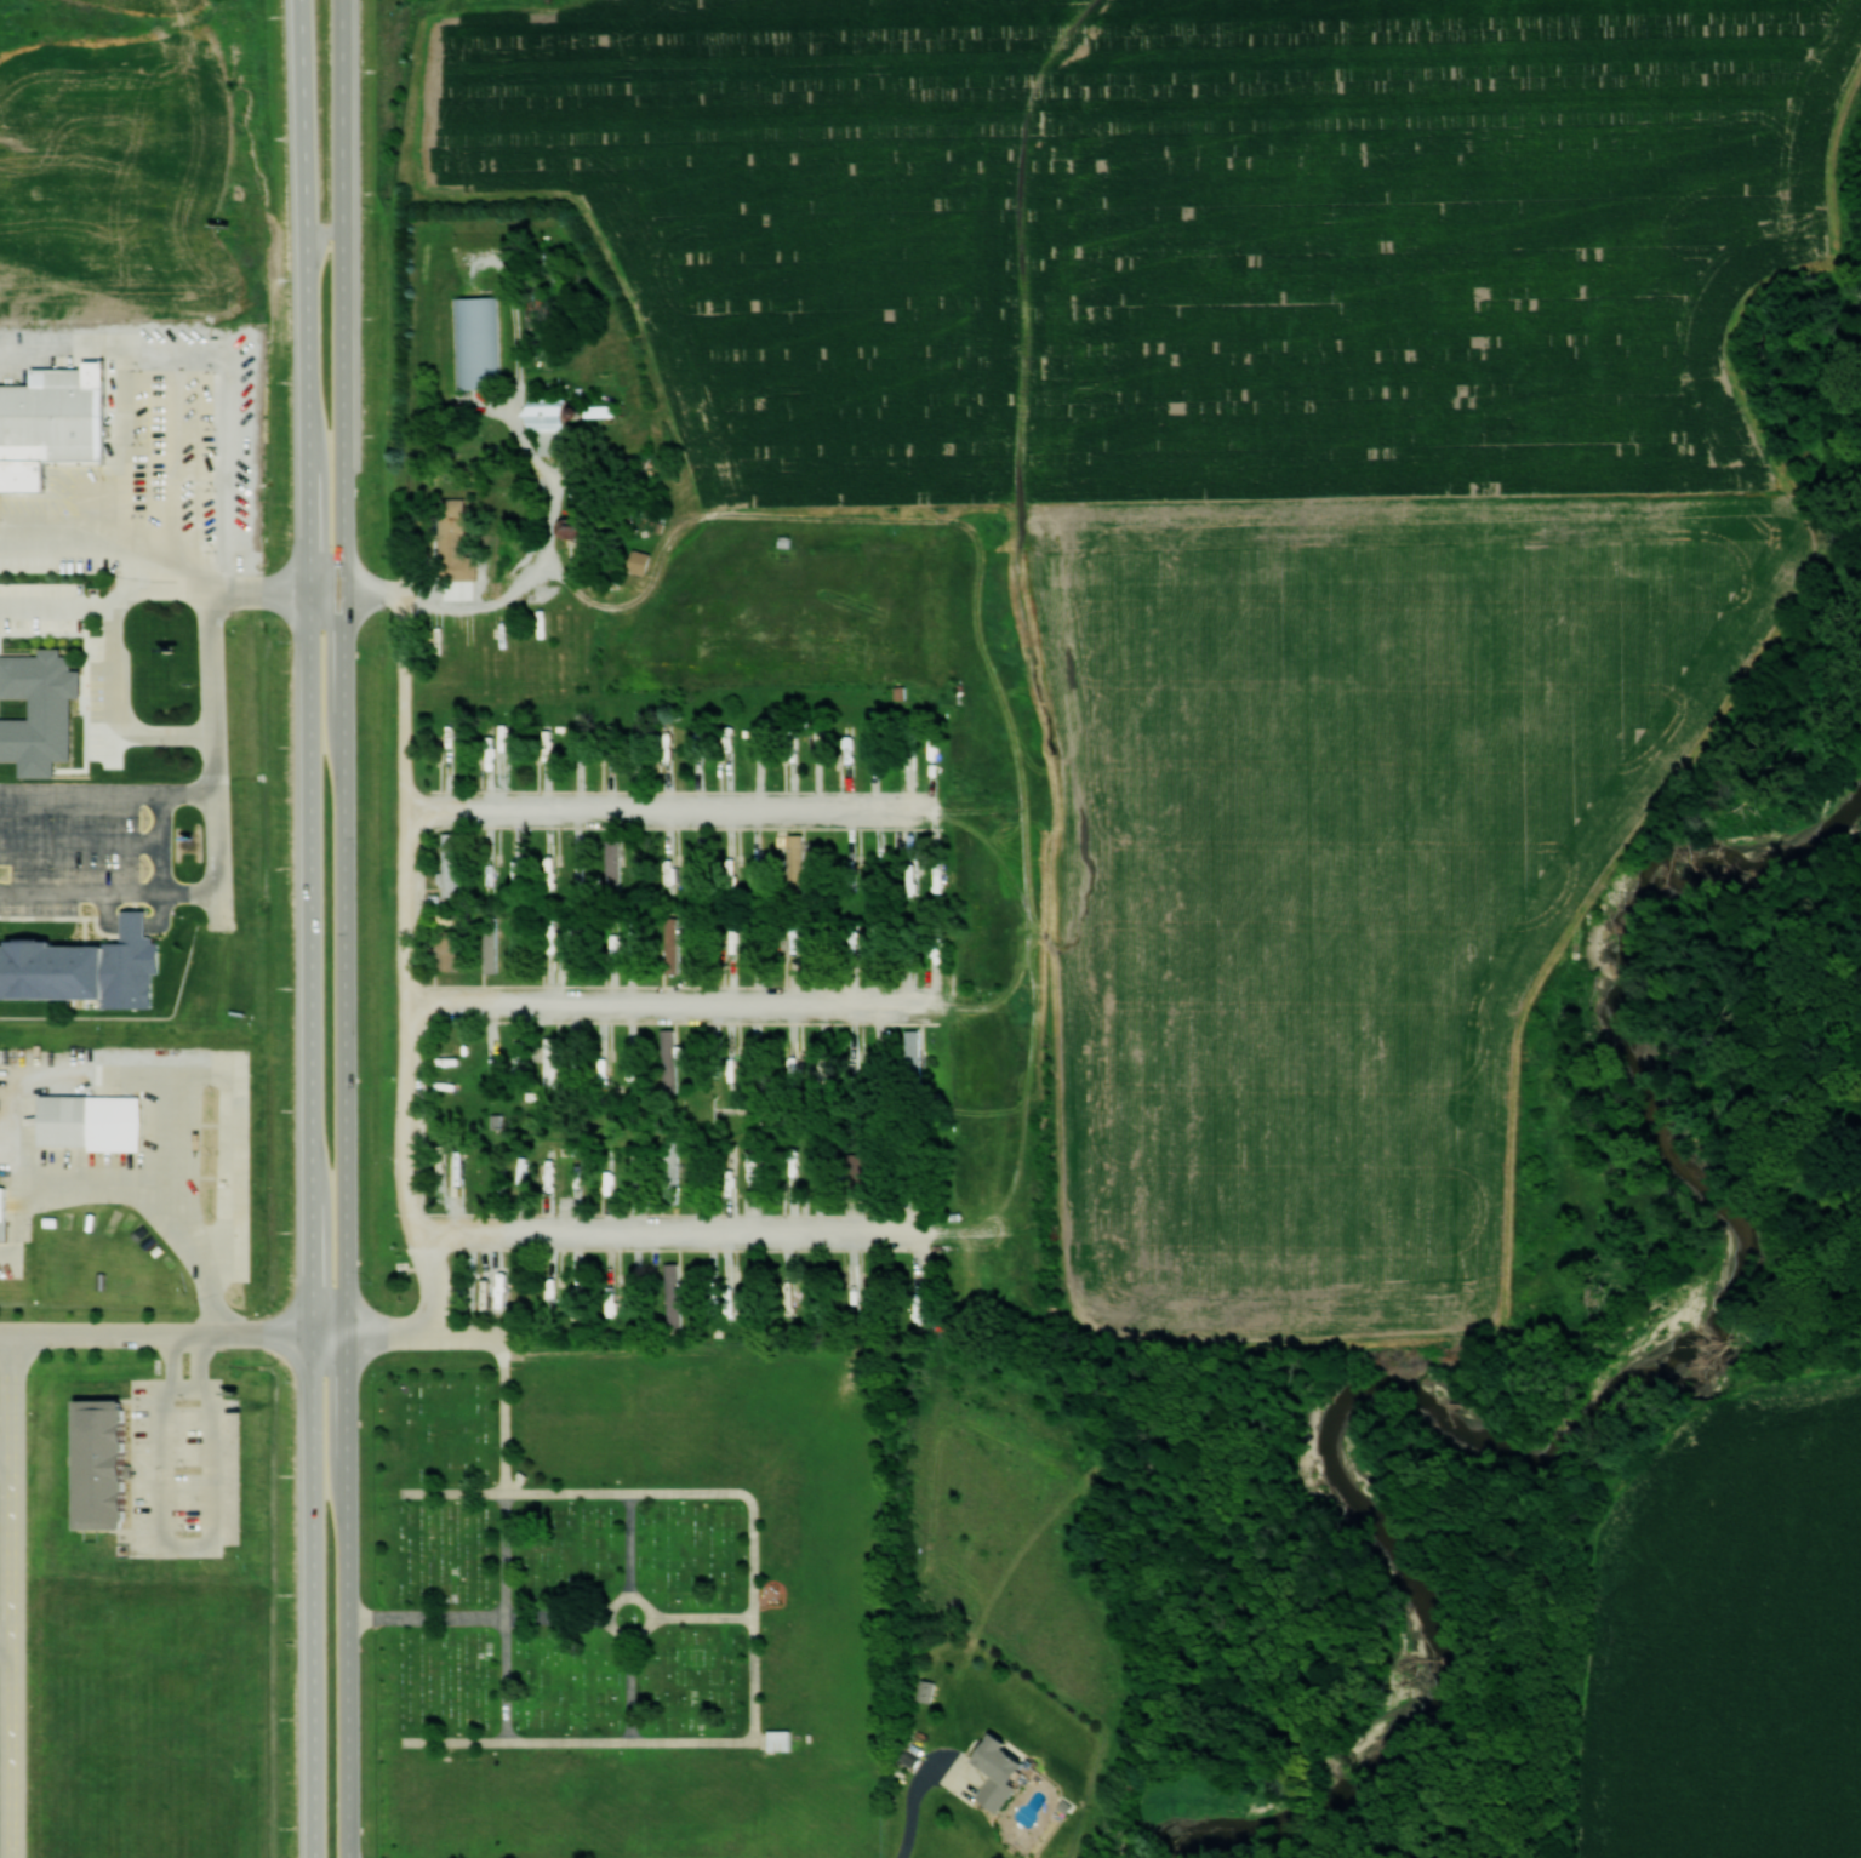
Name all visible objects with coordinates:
road: (346, 184)
road: (296, 262)
building: (481, 342)
building: (603, 411)
building: (58, 415)
building: (556, 425)
road: (346, 484)
building: (578, 528)
building: (459, 541)
road: (304, 559)
road: (443, 598)
building: (843, 661)
building: (47, 692)
road: (218, 693)
building: (670, 745)
building: (732, 750)
road: (670, 812)
building: (799, 861)
building: (613, 862)
building: (451, 865)
building: (553, 865)
building: (673, 887)
road: (412, 927)
building: (559, 945)
building: (450, 949)
building: (493, 951)
building: (87, 966)
road: (668, 1011)
building: (915, 1051)
building: (794, 1053)
building: (670, 1057)
building: (553, 1059)
building: (93, 1119)
building: (673, 1160)
building: (863, 1172)
building: (2, 1201)
road: (314, 1225)
road: (348, 1227)
road: (690, 1237)
building: (920, 1274)
road: (436, 1284)
building: (497, 1285)
building: (857, 1286)
building: (790, 1290)
building: (674, 1292)
road: (426, 1333)
road: (173, 1334)
building: (110, 1462)
road: (512, 1542)
road: (634, 1548)
road: (12, 1596)
park: (627, 1608)
road: (707, 1622)
road: (479, 1623)
road: (611, 1623)
road: (757, 1624)
crop: (1726, 1628)
building: (929, 1690)
road: (632, 1697)
building: (783, 1739)
building: (1005, 1771)
road: (917, 1783)

